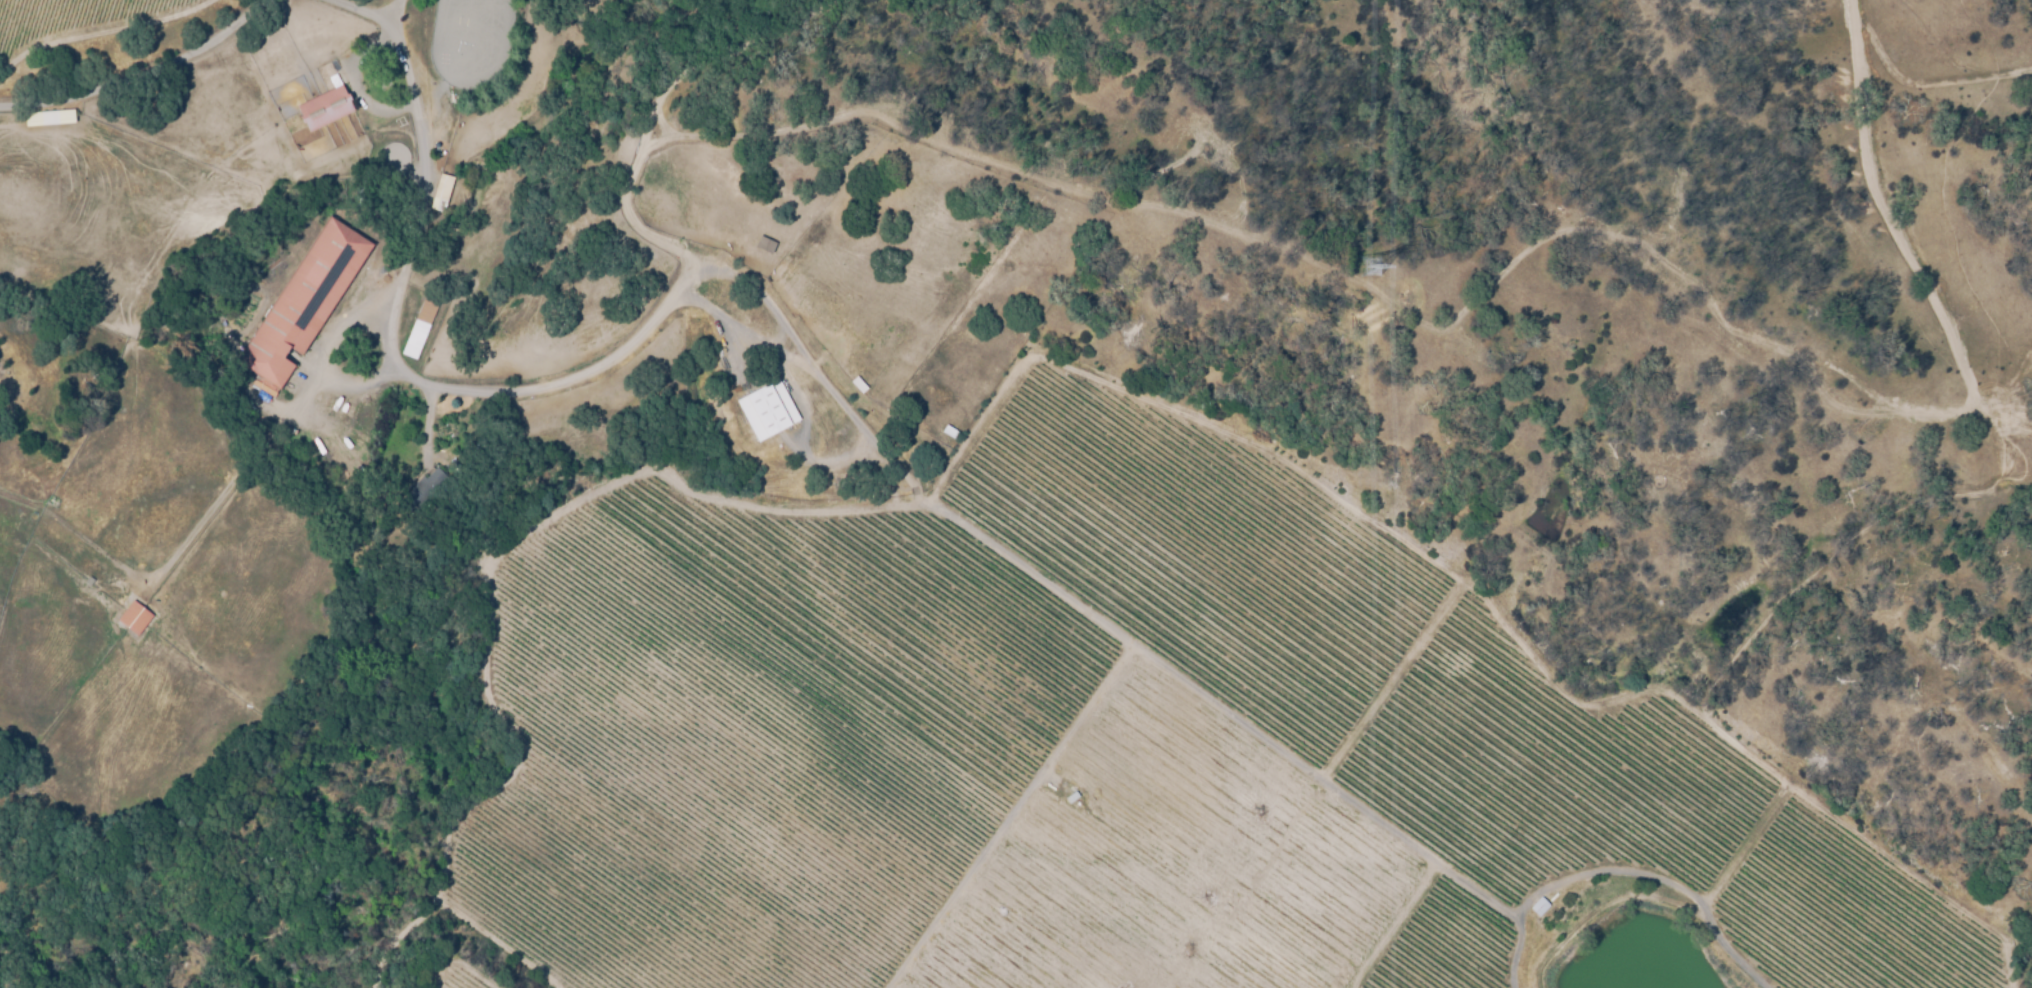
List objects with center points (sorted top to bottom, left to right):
road: (393, 12)
road: (143, 70)
building: (329, 96)
building: (49, 118)
building: (442, 192)
building: (764, 246)
power tower: (1383, 269)
building: (308, 299)
building: (416, 324)
building: (721, 348)
road: (548, 384)
building: (1, 395)
building: (767, 410)
road: (893, 452)
building: (1657, 481)
building: (140, 609)
road: (1313, 770)
building: (1070, 798)
building: (1541, 907)

